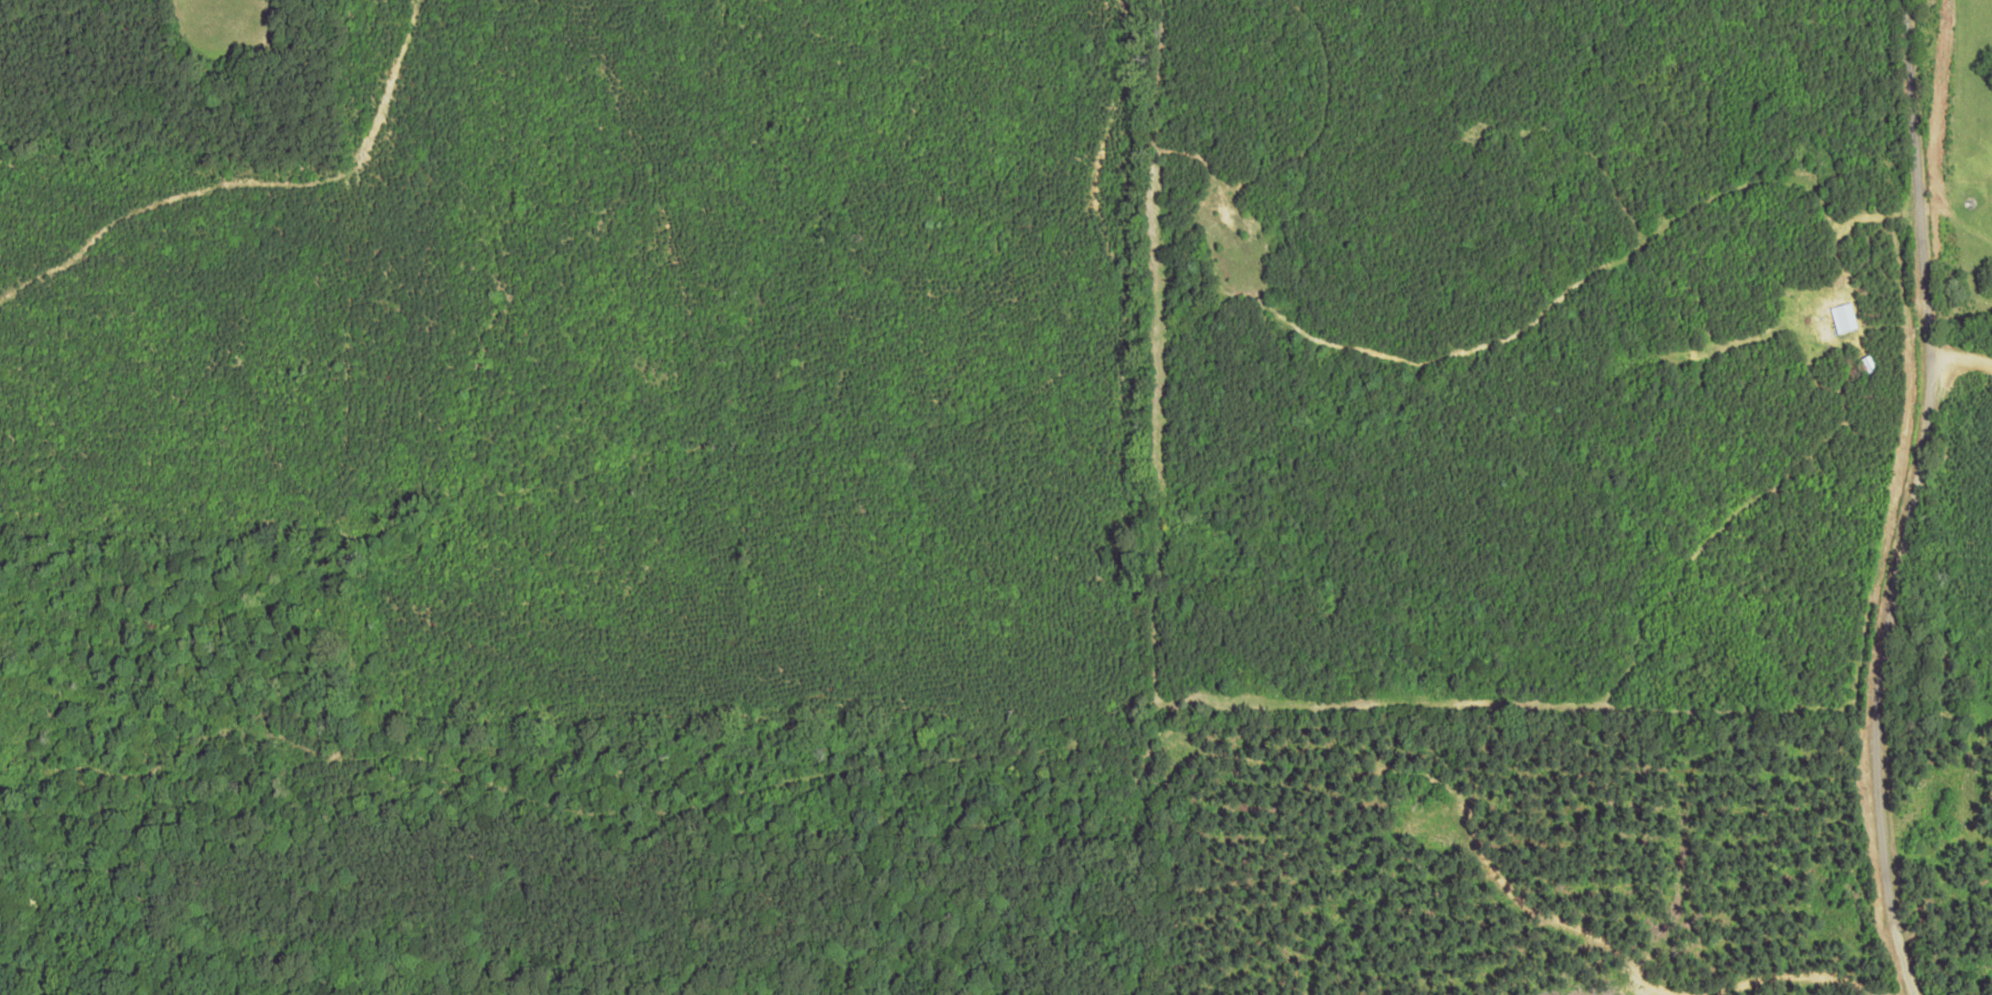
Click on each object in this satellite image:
road: (1956, 382)
road: (1906, 500)

